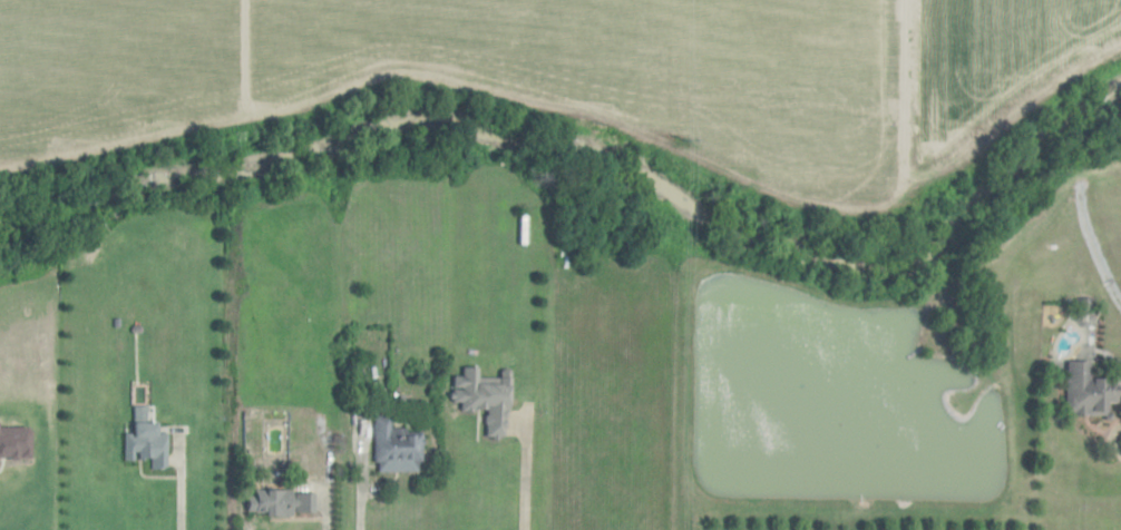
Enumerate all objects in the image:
building: (1089, 390)
building: (485, 399)
building: (147, 444)
building: (396, 446)
road: (456, 474)
road: (357, 479)
road: (325, 481)
road: (178, 487)
building: (282, 501)

